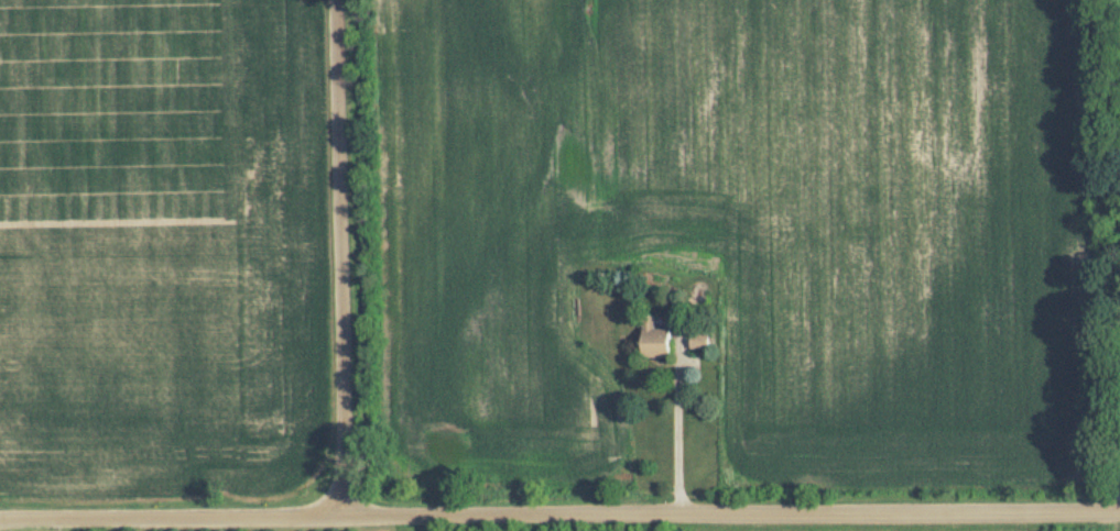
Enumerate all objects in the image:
road: (331, 255)
building: (653, 339)
building: (699, 340)
road: (677, 431)
road: (559, 506)

